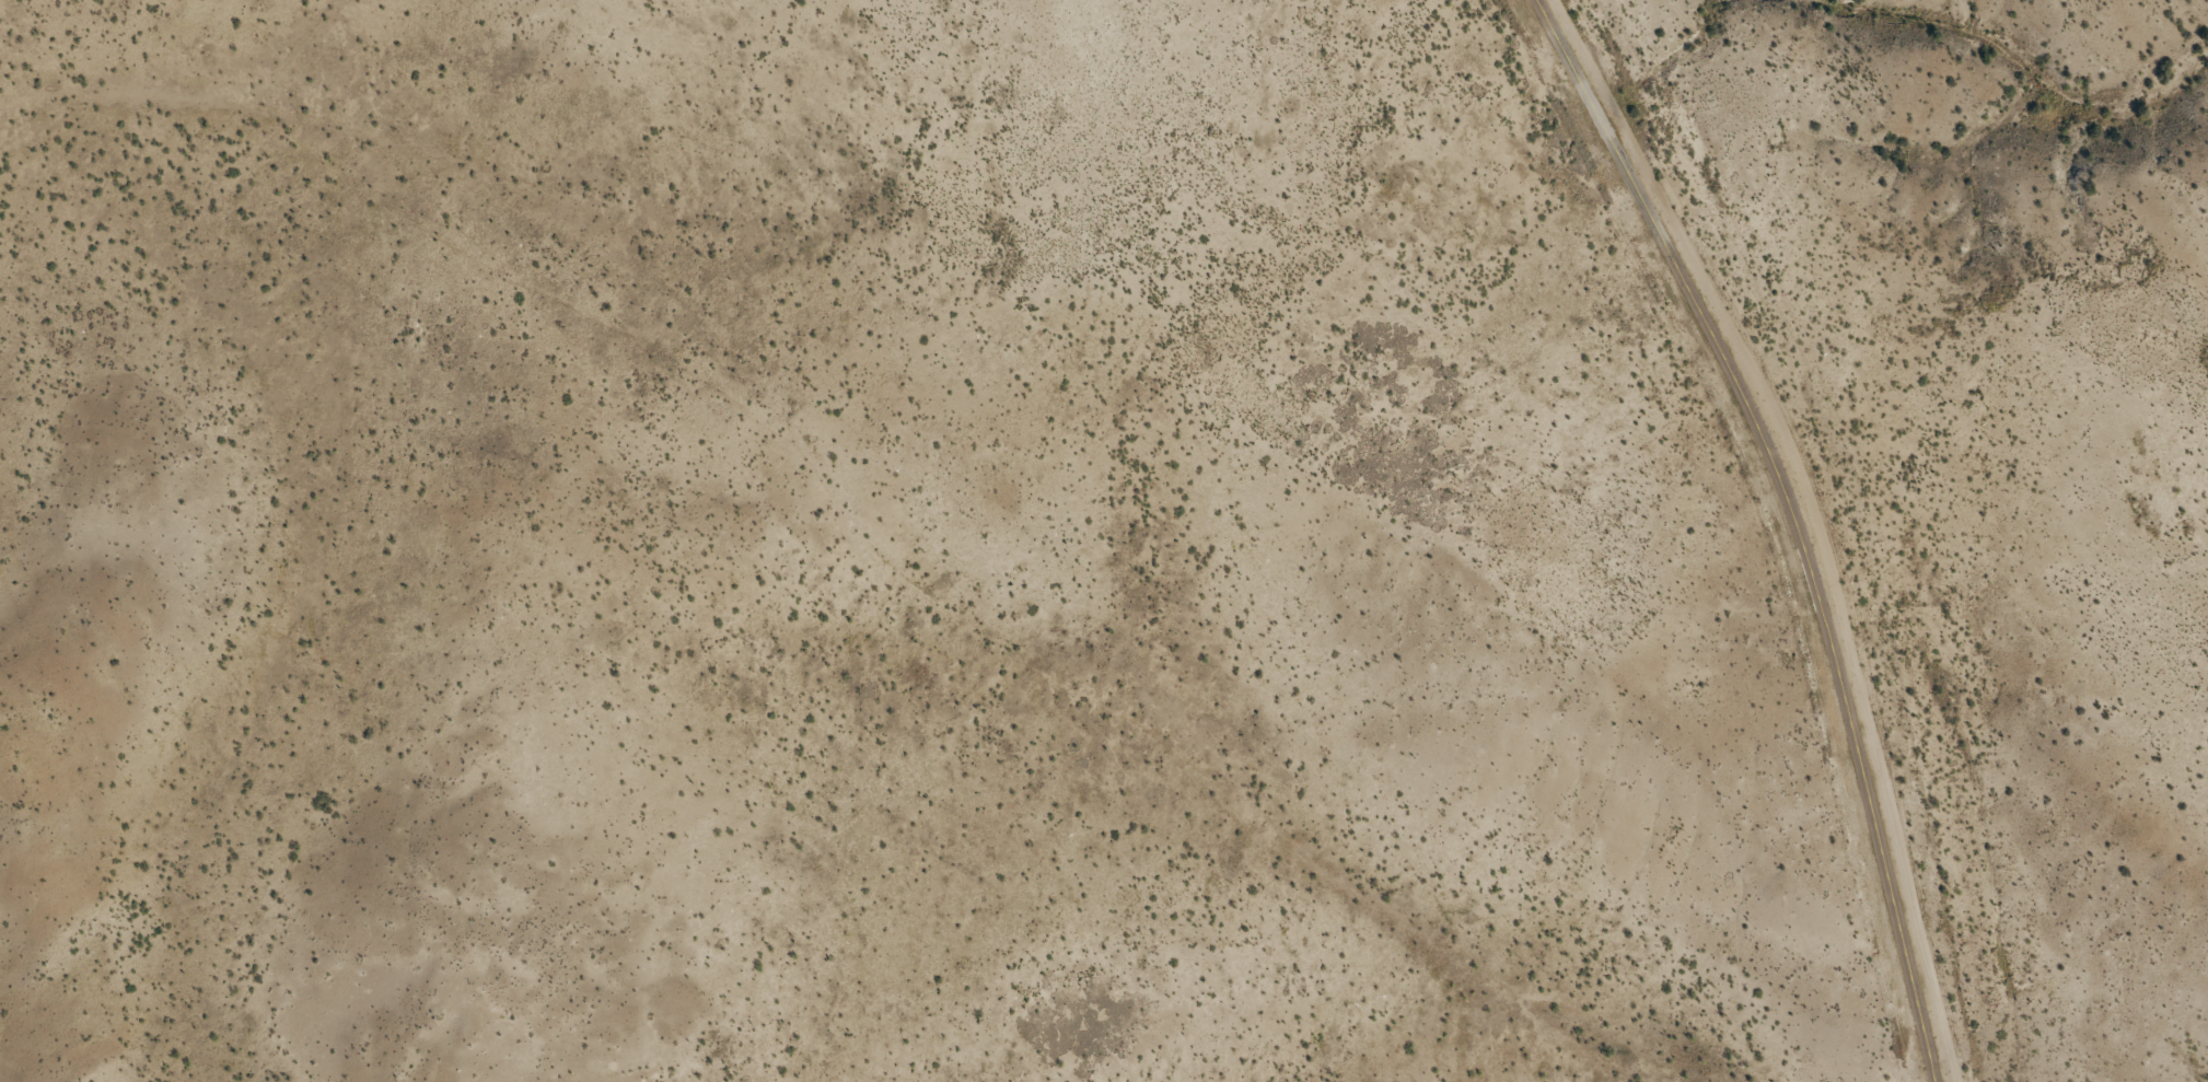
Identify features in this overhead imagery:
road: (1796, 519)

